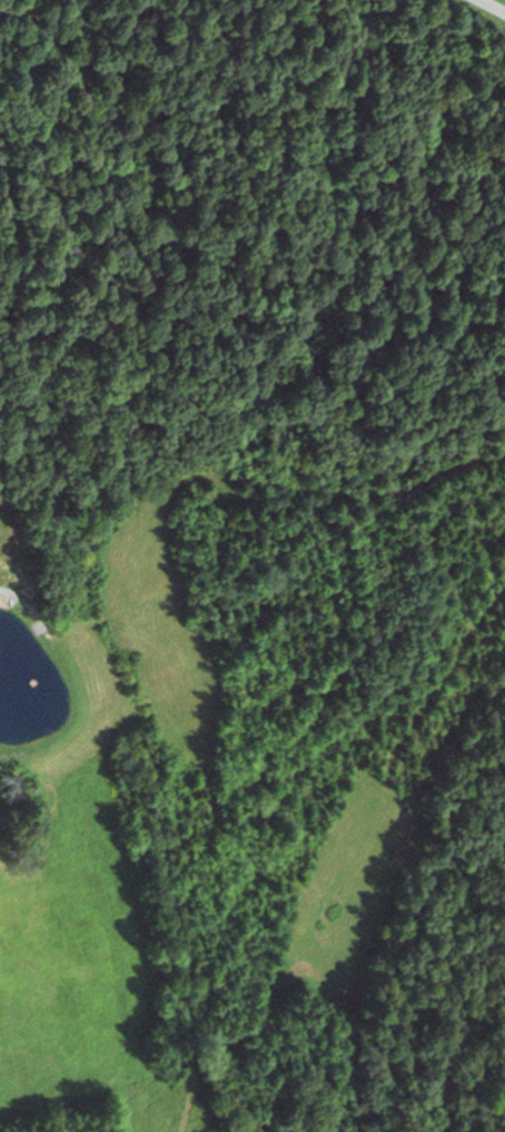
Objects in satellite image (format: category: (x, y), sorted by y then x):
road: (491, 7)

